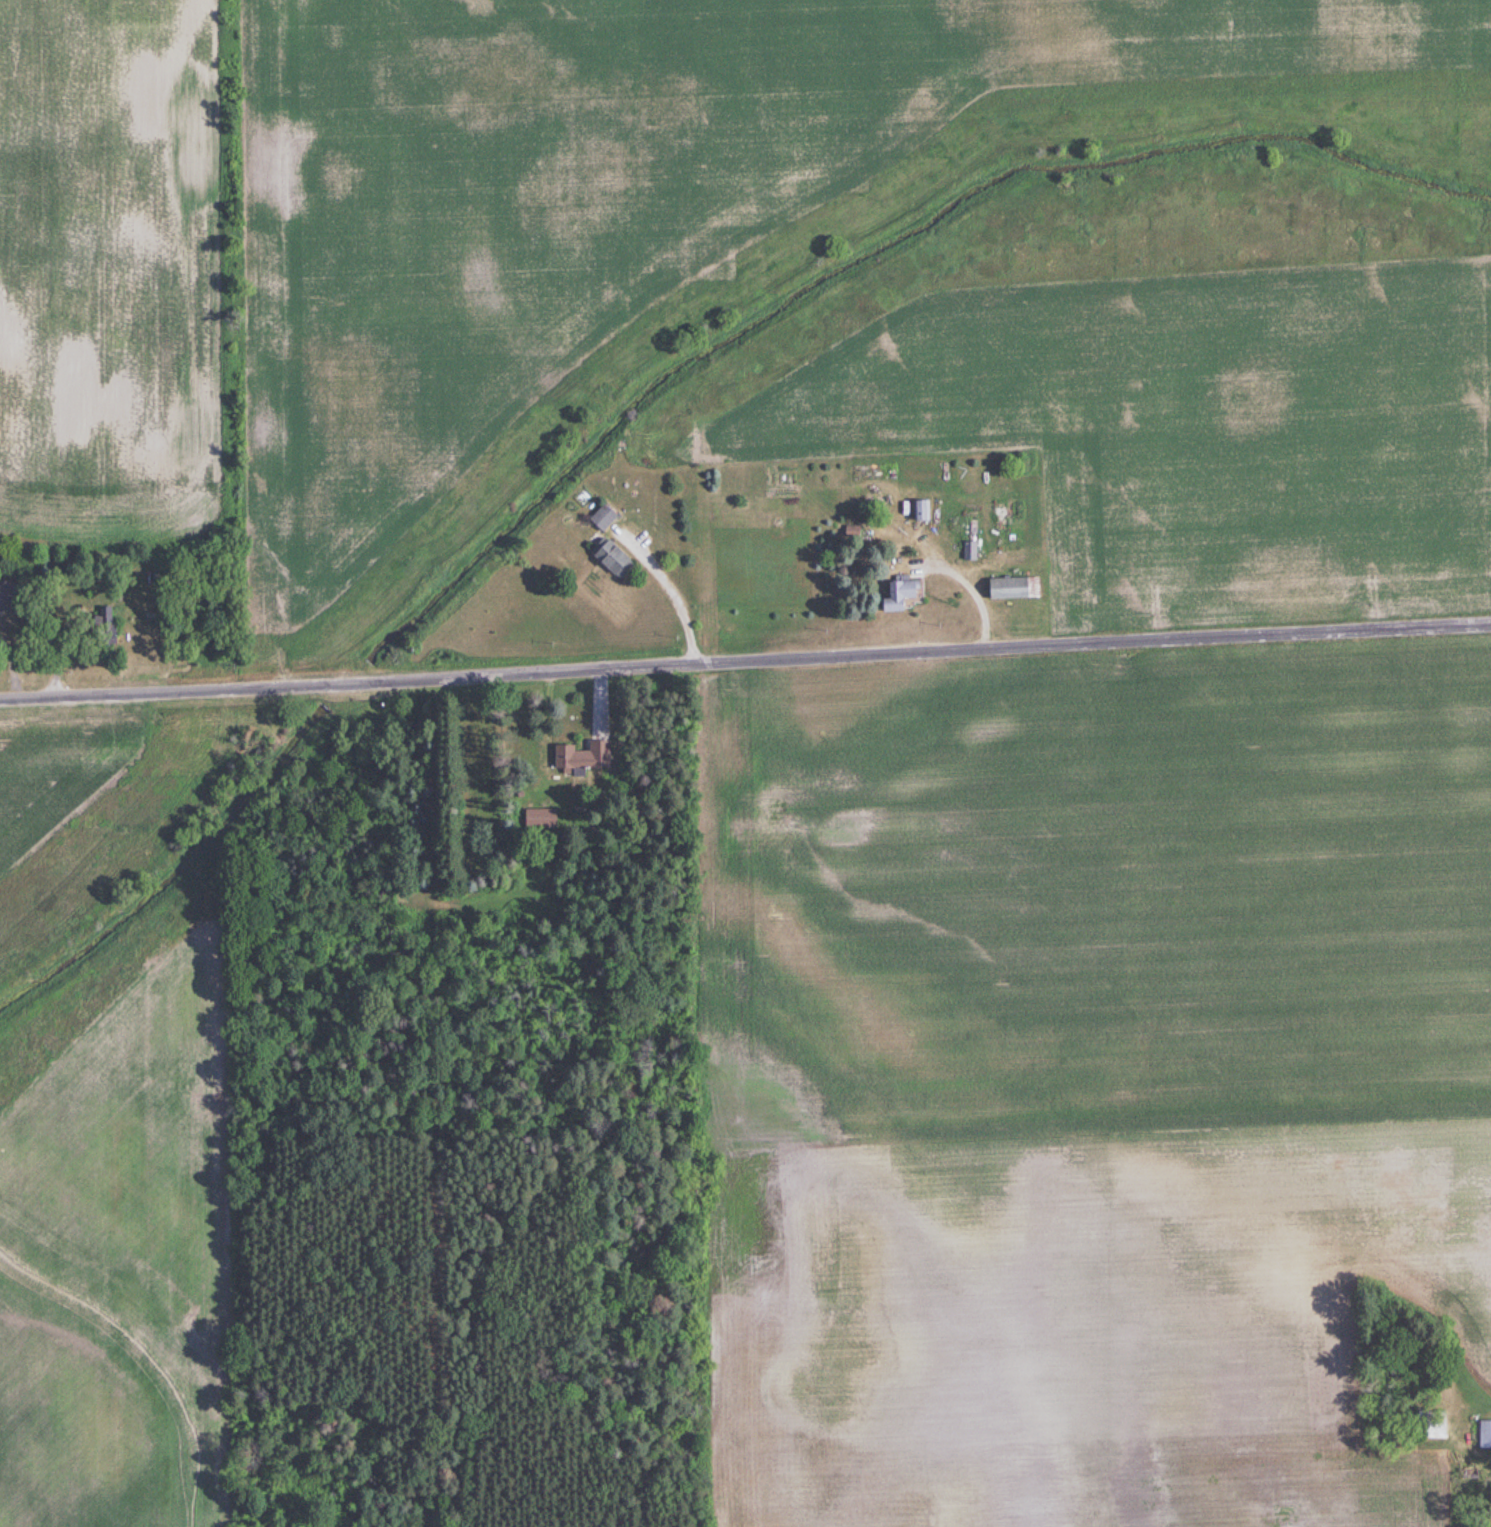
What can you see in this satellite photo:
building: (921, 510)
building: (600, 518)
building: (970, 551)
building: (610, 559)
building: (1012, 588)
road: (668, 589)
road: (973, 595)
building: (898, 596)
building: (2, 598)
road: (745, 664)
building: (578, 758)
building: (1430, 1425)
building: (1484, 1434)

